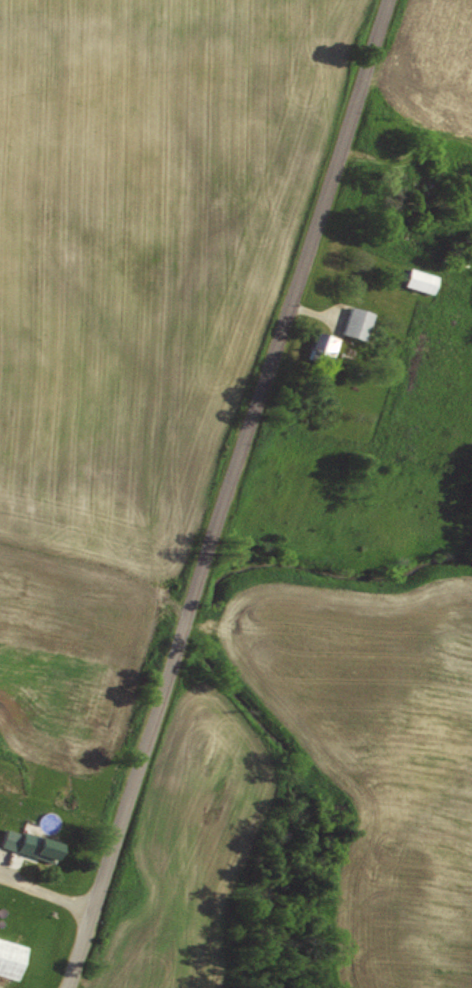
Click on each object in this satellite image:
building: (419, 280)
building: (355, 322)
building: (322, 343)
road: (230, 494)
building: (30, 843)
building: (11, 957)

